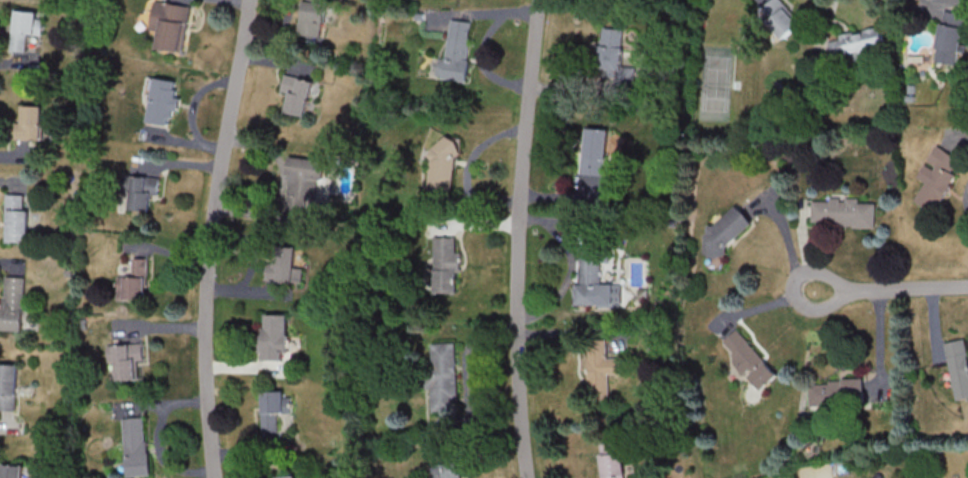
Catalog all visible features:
building: (313, 18)
building: (779, 18)
building: (170, 24)
building: (24, 28)
building: (951, 38)
building: (858, 45)
building: (457, 50)
building: (610, 51)
building: (298, 94)
building: (164, 102)
building: (29, 124)
building: (595, 152)
building: (443, 172)
building: (938, 177)
building: (304, 184)
building: (140, 192)
building: (844, 213)
building: (15, 219)
building: (726, 232)
road: (207, 237)
road: (514, 238)
building: (446, 265)
building: (285, 266)
building: (591, 275)
building: (135, 282)
road: (887, 287)
building: (10, 303)
building: (276, 337)
building: (125, 359)
building: (749, 360)
building: (958, 368)
building: (600, 369)
building: (443, 378)
building: (7, 387)
building: (837, 392)
building: (275, 410)
building: (136, 447)
building: (613, 460)
building: (450, 470)
building: (11, 471)
building: (288, 476)

